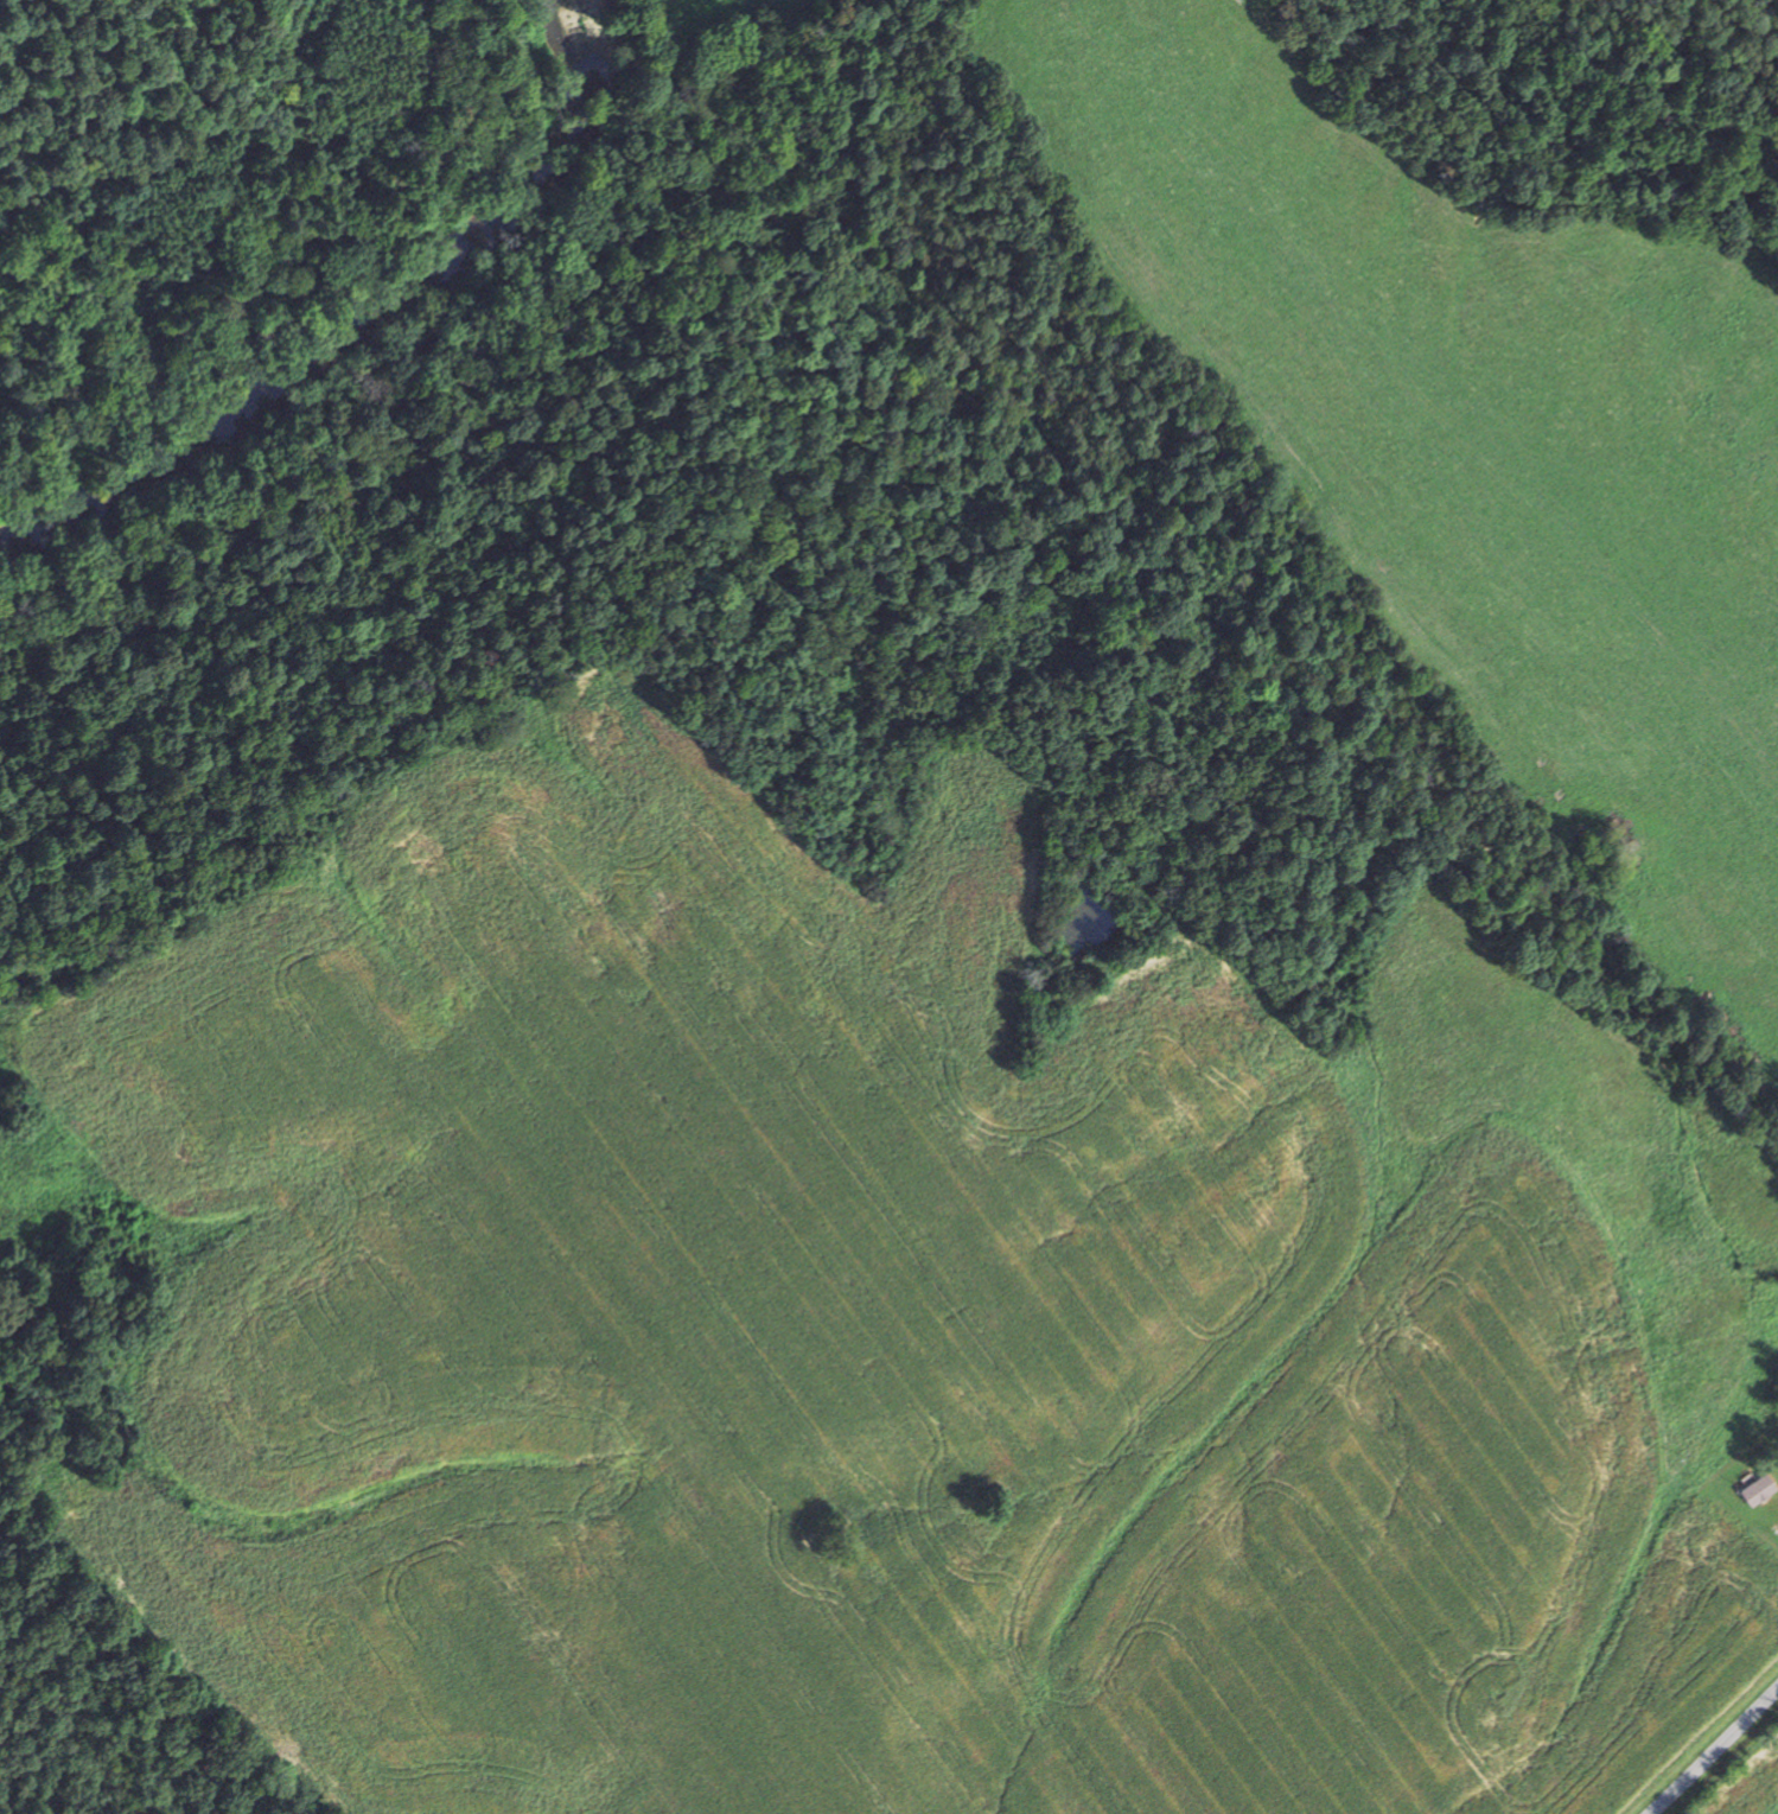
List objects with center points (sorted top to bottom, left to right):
road: (1715, 1751)

